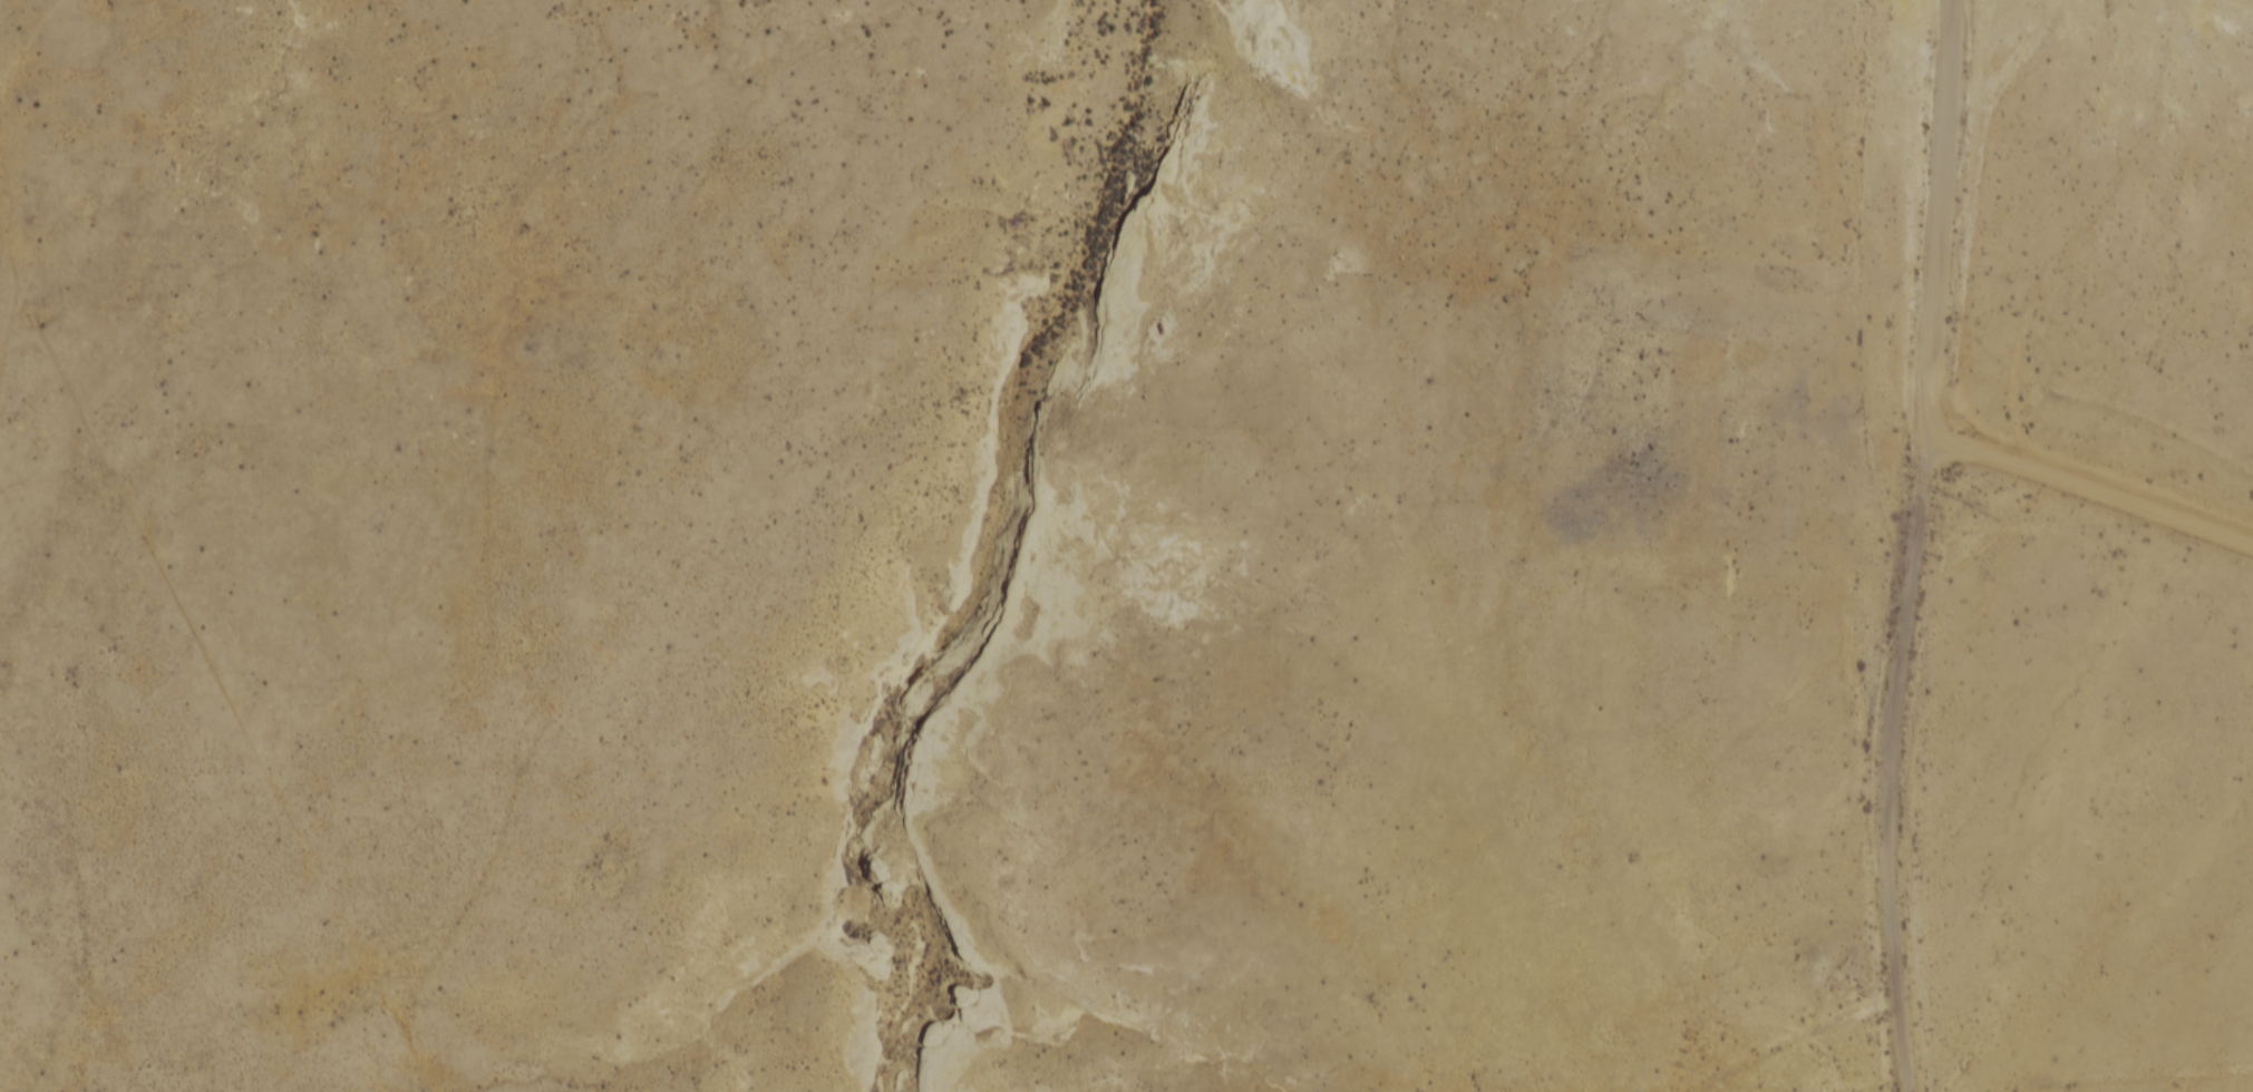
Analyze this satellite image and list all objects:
road: (1941, 213)
road: (1927, 452)
road: (2091, 487)
road: (1888, 784)

